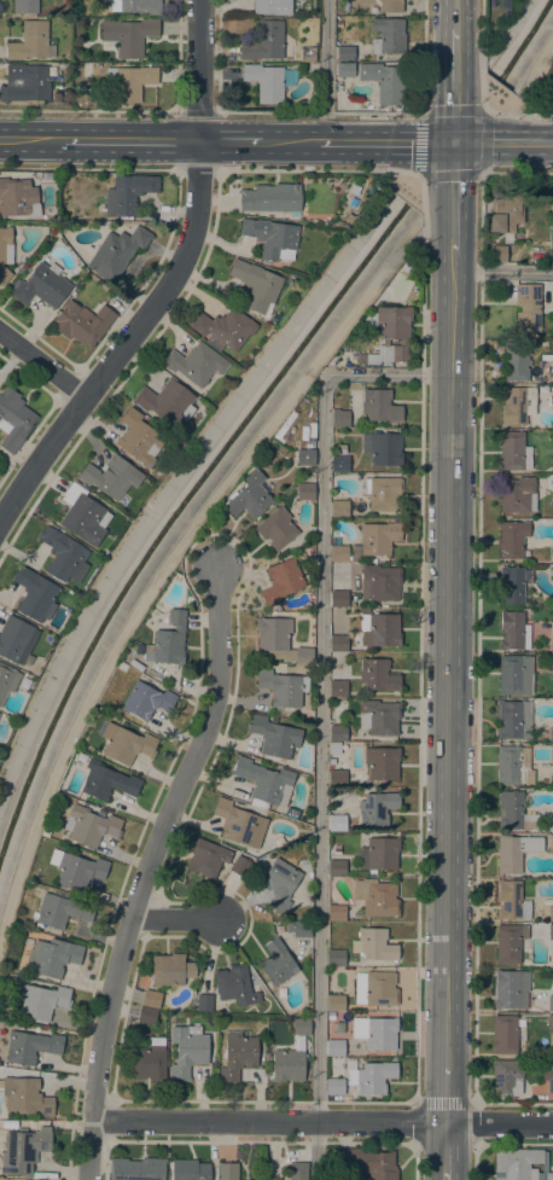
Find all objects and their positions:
building: (24, 6)
building: (136, 6)
building: (272, 6)
building: (390, 6)
road: (454, 14)
building: (338, 24)
building: (128, 35)
building: (388, 36)
road: (482, 37)
building: (263, 41)
building: (30, 42)
building: (307, 53)
building: (344, 53)
building: (87, 66)
road: (454, 68)
road: (534, 69)
building: (344, 70)
road: (325, 71)
building: (384, 81)
building: (130, 82)
building: (264, 82)
building: (24, 83)
building: (487, 85)
road: (487, 85)
building: (491, 88)
road: (491, 88)
building: (496, 92)
road: (496, 92)
building: (502, 95)
road: (502, 95)
road: (499, 98)
road: (483, 106)
road: (454, 109)
road: (510, 110)
road: (88, 111)
road: (452, 111)
road: (470, 111)
road: (197, 112)
road: (421, 114)
road: (377, 115)
road: (532, 116)
road: (453, 127)
road: (484, 128)
road: (507, 132)
road: (30, 140)
road: (129, 141)
road: (228, 143)
road: (289, 143)
road: (368, 143)
road: (437, 143)
traffic signals: (453, 143)
road: (470, 143)
road: (520, 143)
road: (453, 152)
road: (420, 159)
road: (88, 168)
road: (197, 169)
road: (307, 172)
road: (453, 172)
road: (483, 172)
road: (517, 172)
road: (407, 173)
road: (456, 175)
road: (436, 176)
road: (394, 187)
road: (400, 191)
road: (406, 191)
building: (127, 193)
road: (404, 194)
road: (423, 194)
building: (18, 198)
road: (409, 198)
building: (270, 199)
road: (414, 203)
building: (505, 215)
road: (453, 219)
road: (432, 232)
building: (272, 238)
building: (116, 252)
building: (5, 254)
building: (497, 254)
road: (502, 273)
road: (167, 284)
building: (41, 285)
building: (256, 286)
building: (552, 300)
building: (528, 307)
building: (82, 322)
building: (223, 327)
building: (390, 333)
road: (42, 364)
building: (194, 364)
building: (516, 365)
building: (552, 373)
building: (552, 401)
building: (165, 402)
building: (517, 405)
building: (379, 406)
building: (339, 418)
building: (13, 419)
building: (138, 437)
building: (382, 448)
building: (340, 449)
building: (513, 452)
building: (304, 453)
building: (339, 464)
building: (552, 464)
building: (111, 476)
building: (552, 483)
building: (305, 493)
building: (383, 493)
building: (518, 495)
building: (249, 498)
building: (339, 508)
building: (83, 516)
building: (276, 529)
building: (512, 539)
building: (367, 544)
building: (552, 554)
building: (64, 557)
road: (165, 568)
building: (552, 572)
building: (281, 581)
building: (382, 582)
building: (514, 585)
building: (35, 594)
building: (339, 598)
building: (379, 629)
building: (514, 632)
building: (552, 638)
building: (16, 639)
road: (476, 639)
building: (168, 640)
building: (279, 640)
building: (338, 643)
road: (419, 658)
road: (448, 659)
building: (552, 663)
building: (377, 675)
building: (516, 675)
building: (7, 680)
building: (283, 688)
building: (338, 688)
building: (146, 701)
road: (319, 715)
building: (379, 717)
building: (513, 720)
building: (338, 733)
building: (552, 734)
building: (274, 737)
building: (126, 744)
building: (334, 749)
building: (552, 752)
building: (382, 763)
building: (513, 766)
building: (337, 779)
building: (107, 781)
building: (264, 783)
building: (377, 808)
building: (516, 813)
building: (235, 821)
building: (337, 822)
building: (551, 824)
building: (89, 826)
building: (551, 843)
building: (337, 850)
building: (516, 851)
building: (379, 855)
building: (206, 859)
building: (240, 866)
building: (337, 868)
building: (76, 870)
road: (150, 871)
building: (280, 884)
building: (377, 897)
building: (511, 901)
building: (60, 911)
building: (336, 913)
building: (551, 913)
road: (176, 918)
building: (289, 928)
building: (279, 929)
building: (302, 930)
building: (551, 932)
building: (508, 943)
building: (373, 944)
building: (53, 957)
building: (336, 958)
building: (276, 964)
building: (170, 970)
building: (237, 986)
building: (376, 989)
building: (507, 990)
building: (151, 1000)
building: (42, 1001)
building: (336, 1002)
building: (203, 1004)
building: (551, 1004)
building: (146, 1016)
building: (551, 1022)
building: (301, 1027)
building: (376, 1033)
building: (506, 1034)
building: (31, 1047)
building: (334, 1047)
building: (187, 1051)
building: (238, 1056)
building: (150, 1060)
building: (287, 1065)
building: (548, 1074)
building: (507, 1076)
building: (371, 1077)
building: (334, 1087)
road: (446, 1094)
building: (24, 1095)
road: (268, 1121)
road: (414, 1122)
road: (473, 1124)
road: (499, 1124)
building: (23, 1151)
road: (444, 1152)
road: (414, 1159)
road: (472, 1162)
building: (368, 1163)
building: (520, 1164)
building: (136, 1169)
building: (188, 1169)
building: (297, 1170)
building: (228, 1172)
building: (273, 1179)

